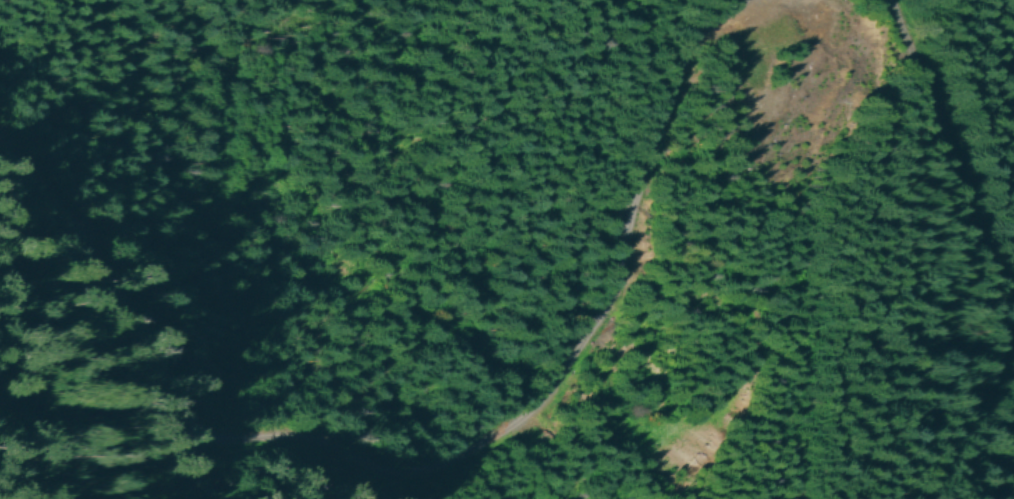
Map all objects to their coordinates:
road: (939, 158)
road: (427, 471)

